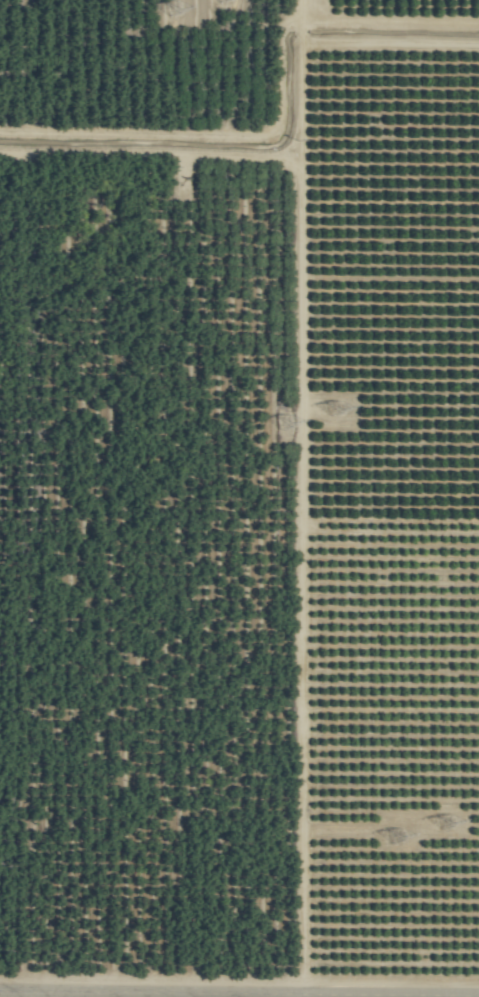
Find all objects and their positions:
power tower: (173, 14)
power tower: (326, 409)
power tower: (279, 425)
crop: (239, 498)
power tower: (443, 822)
power tower: (396, 838)
road: (239, 989)

